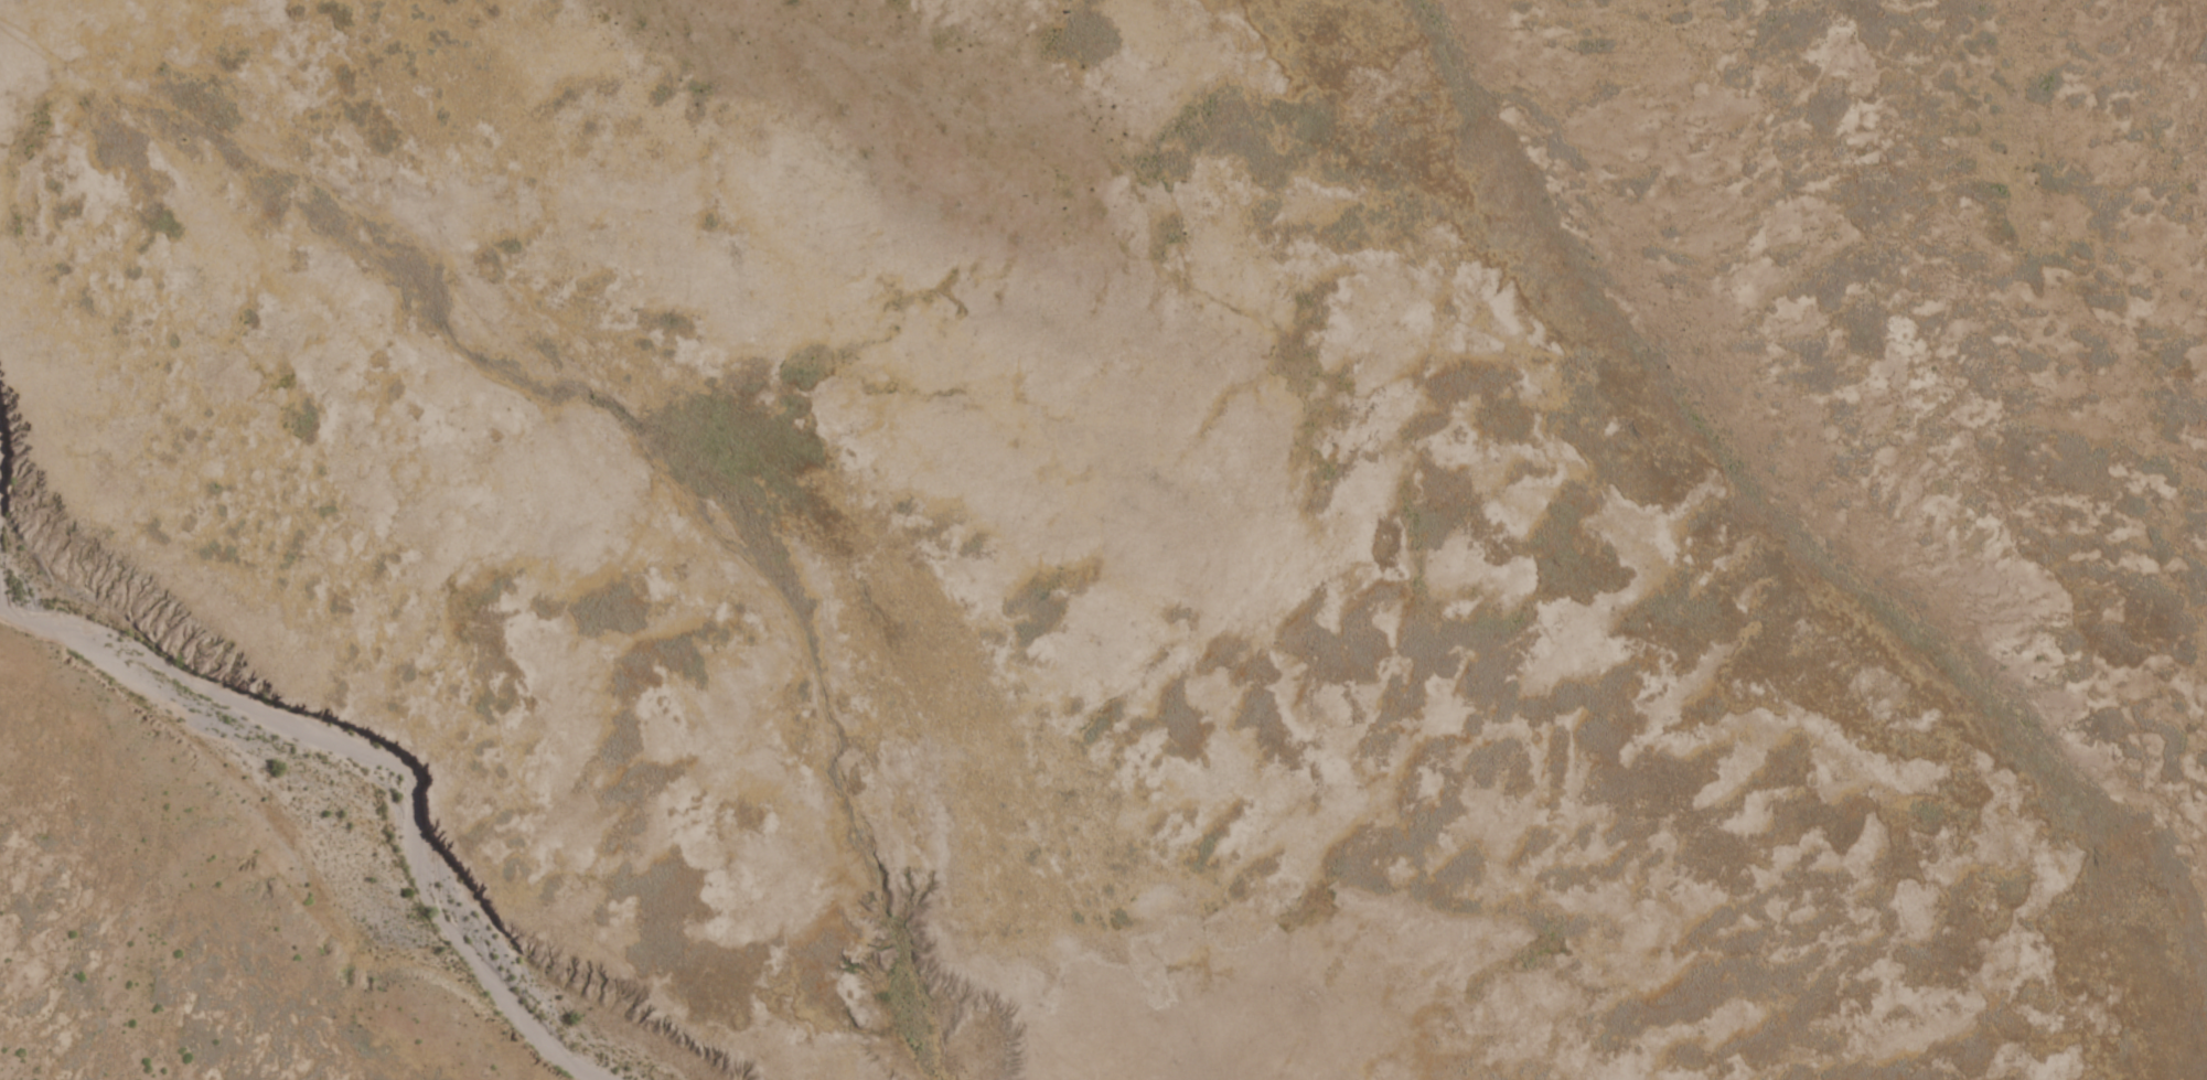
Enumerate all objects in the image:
river: (324, 835)

